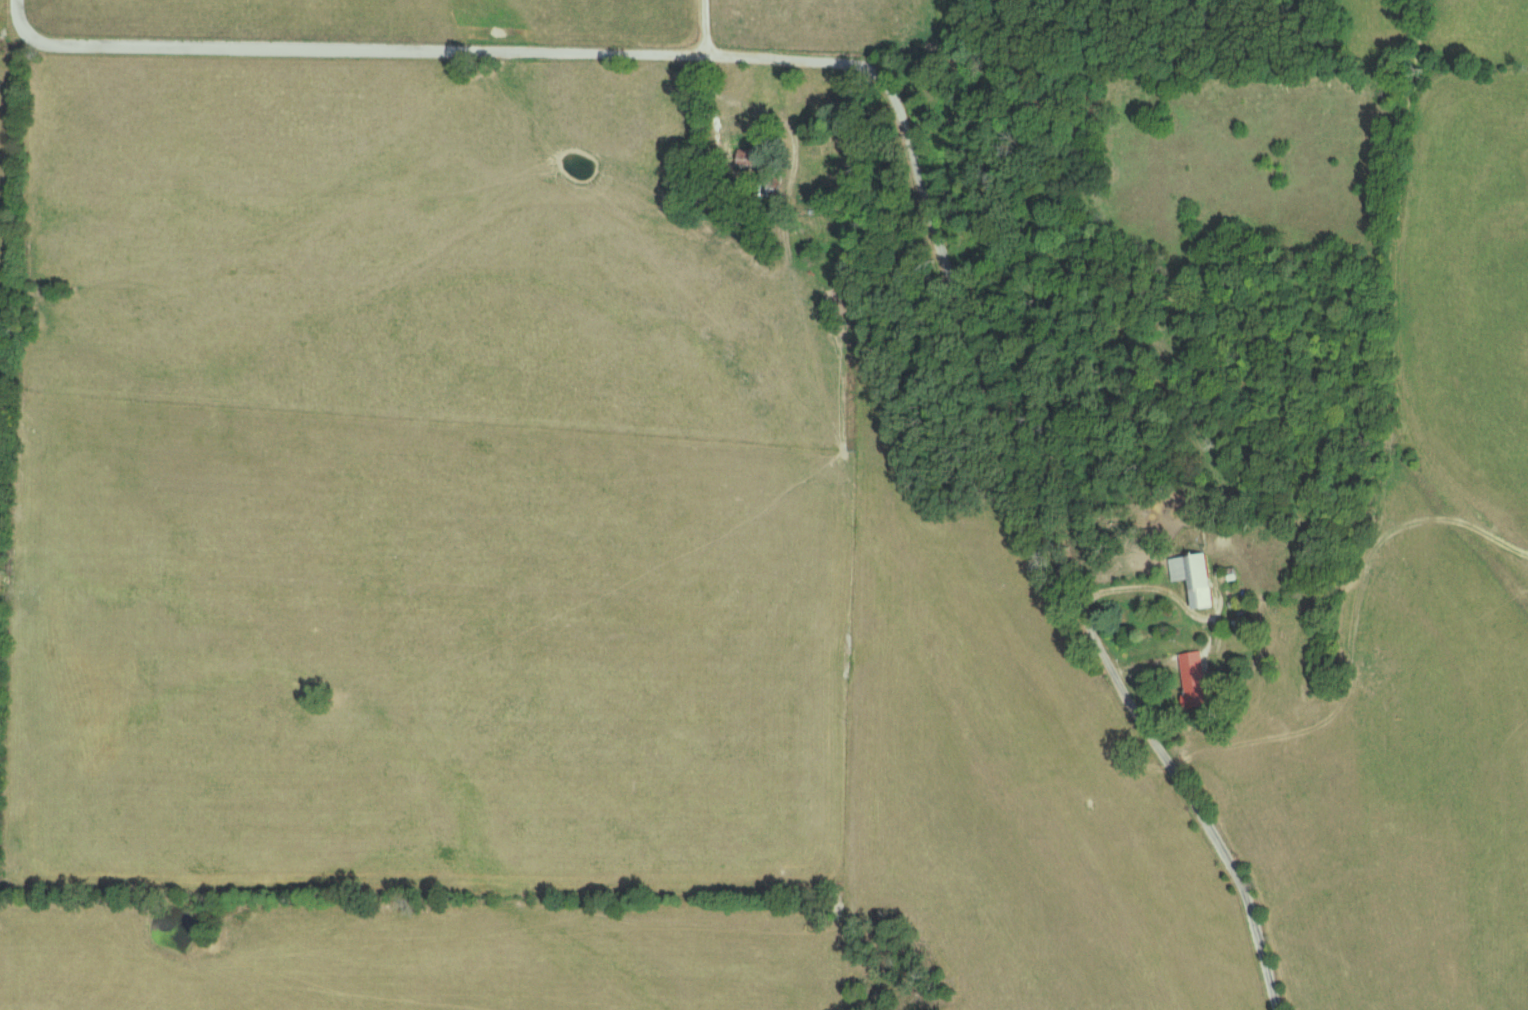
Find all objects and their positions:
road: (702, 25)
road: (886, 147)
building: (1198, 578)
road: (1179, 652)
building: (1202, 682)

